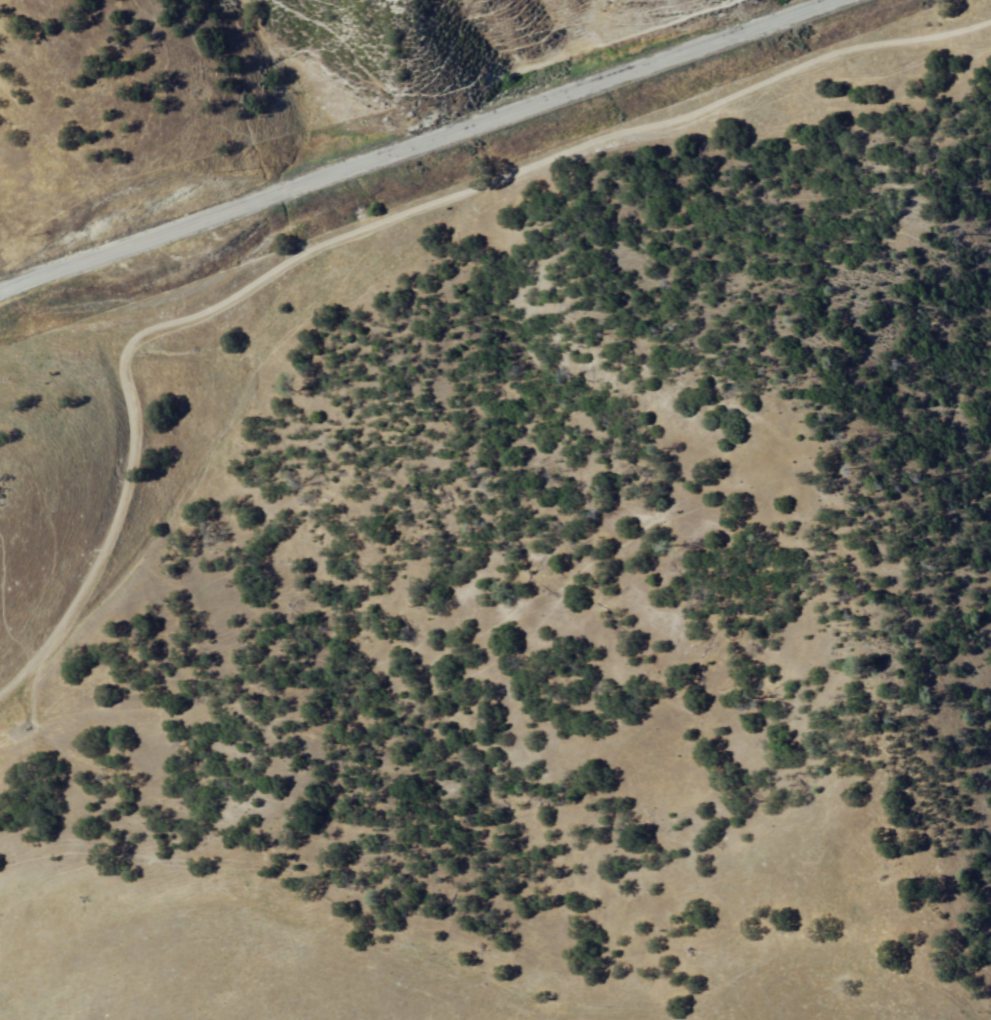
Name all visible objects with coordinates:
road: (419, 145)
road: (364, 226)
road: (168, 244)

